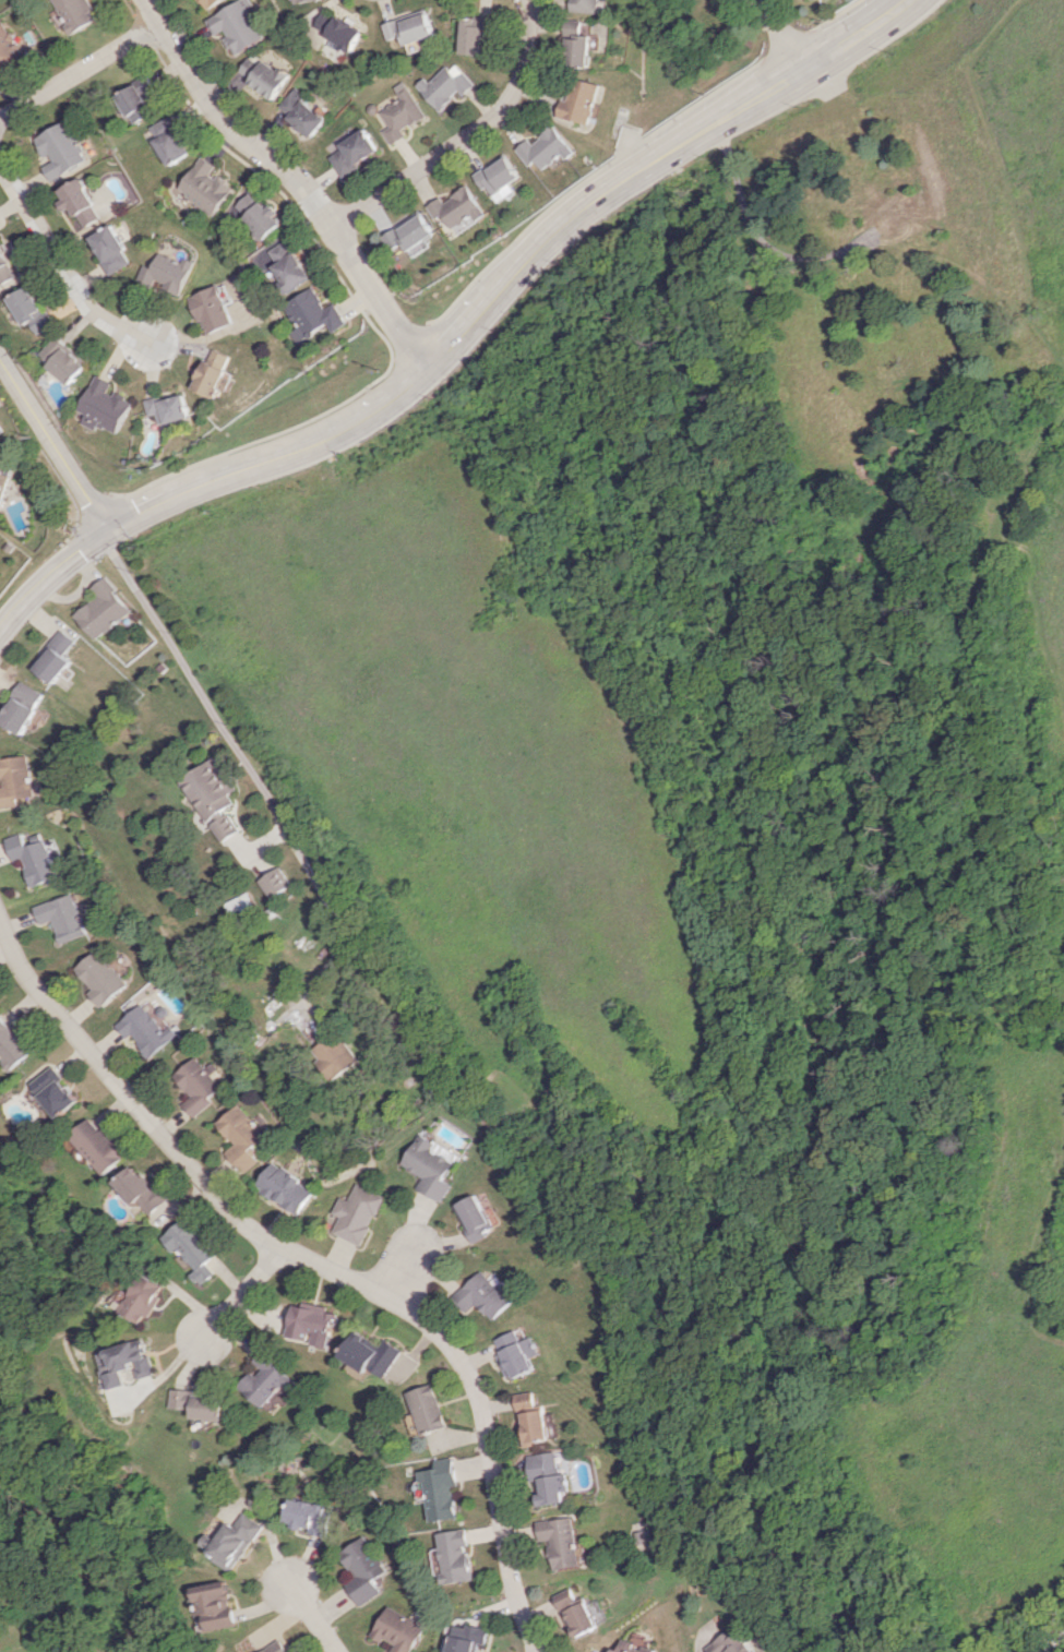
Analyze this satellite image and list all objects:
building: (301, 0)
building: (210, 2)
building: (588, 5)
building: (76, 13)
building: (236, 25)
building: (410, 27)
building: (338, 29)
building: (477, 33)
road: (780, 34)
building: (579, 45)
building: (10, 49)
road: (80, 71)
building: (263, 75)
building: (144, 83)
building: (446, 85)
building: (583, 100)
building: (133, 103)
building: (301, 112)
building: (401, 113)
road: (467, 137)
building: (168, 140)
building: (547, 148)
building: (62, 149)
building: (354, 151)
road: (295, 176)
building: (499, 177)
building: (204, 187)
building: (81, 203)
building: (459, 208)
building: (895, 215)
building: (256, 216)
building: (410, 236)
building: (111, 249)
building: (5, 265)
building: (286, 265)
road: (63, 270)
building: (168, 272)
building: (212, 309)
building: (31, 310)
building: (311, 314)
road: (458, 339)
building: (63, 360)
building: (215, 373)
building: (105, 406)
building: (168, 408)
building: (0, 430)
road: (53, 444)
building: (3, 482)
traffic signals: (107, 529)
building: (105, 609)
building: (58, 657)
building: (25, 707)
road: (244, 761)
building: (16, 781)
building: (211, 789)
building: (226, 827)
building: (35, 859)
building: (276, 882)
building: (240, 902)
building: (61, 917)
building: (99, 977)
building: (146, 1029)
building: (12, 1043)
building: (335, 1055)
building: (196, 1085)
building: (56, 1092)
building: (99, 1145)
building: (429, 1166)
building: (284, 1187)
building: (140, 1188)
building: (356, 1213)
building: (473, 1217)
road: (421, 1231)
building: (191, 1247)
road: (315, 1264)
road: (236, 1295)
building: (482, 1295)
building: (142, 1298)
building: (311, 1324)
building: (369, 1353)
building: (514, 1354)
building: (128, 1362)
building: (266, 1379)
building: (200, 1404)
building: (425, 1409)
building: (530, 1418)
building: (546, 1477)
building: (438, 1489)
building: (303, 1516)
building: (232, 1541)
building: (558, 1541)
building: (452, 1556)
building: (357, 1569)
building: (214, 1605)
building: (572, 1613)
road: (307, 1615)
building: (394, 1630)
building: (464, 1638)
building: (731, 1642)
road: (1054, 1644)
building: (276, 1648)
building: (632, 1648)

